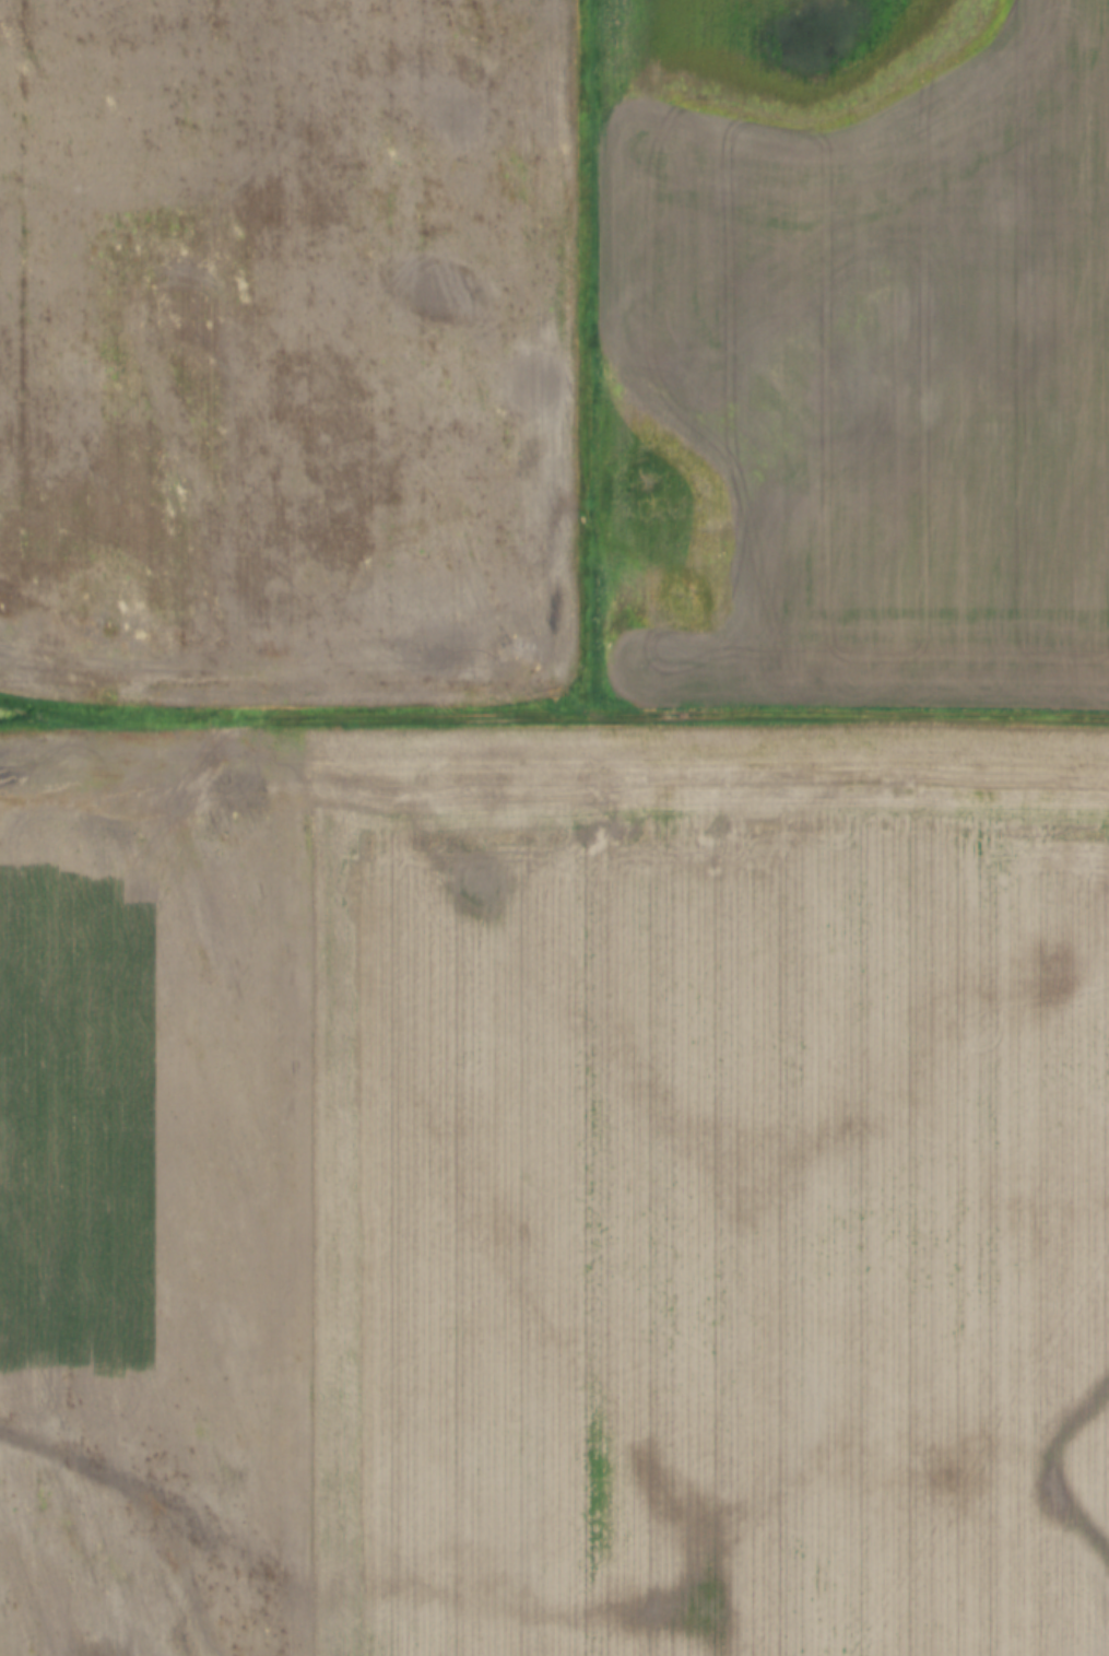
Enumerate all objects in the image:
road: (588, 604)

